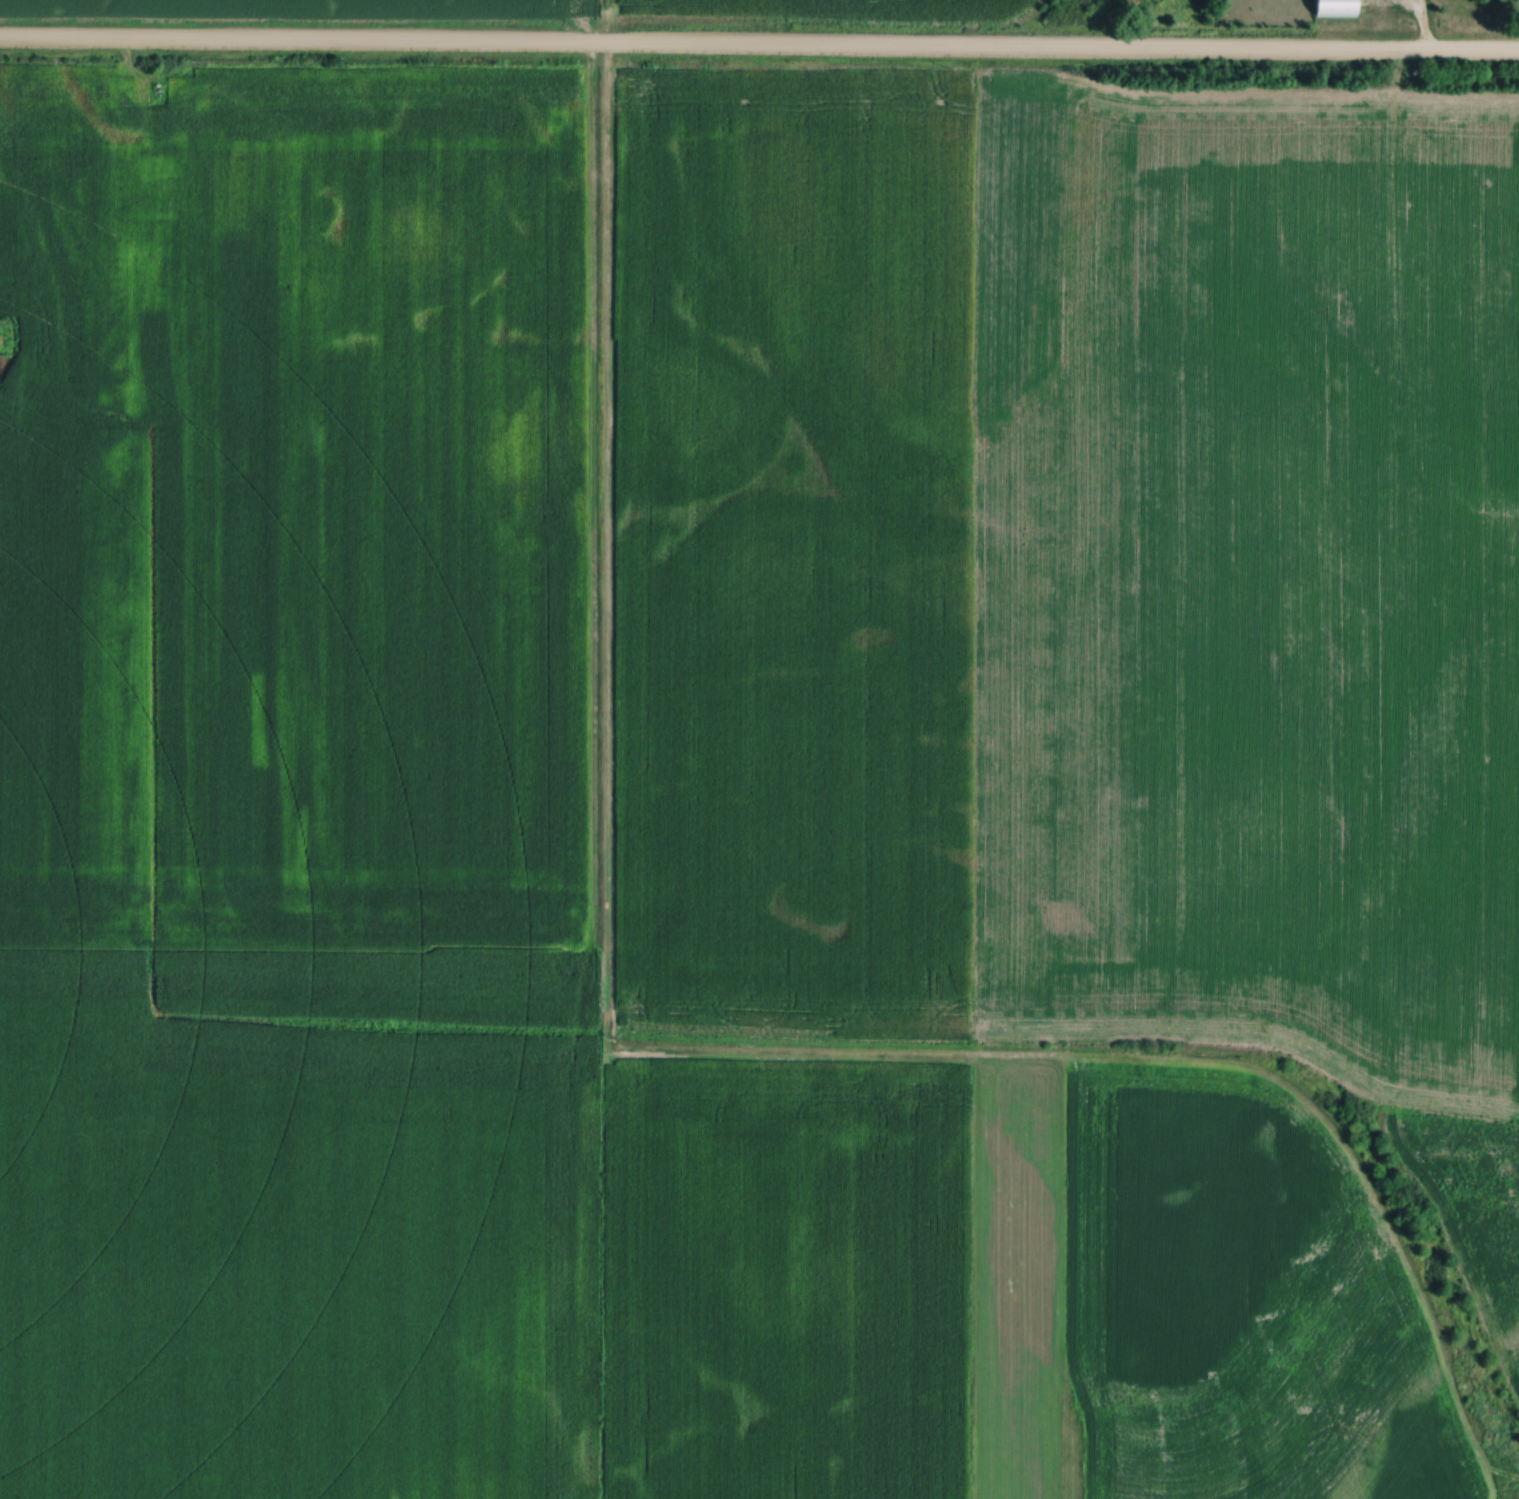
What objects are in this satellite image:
building: (1339, 9)
road: (1422, 9)
road: (1431, 34)
road: (759, 47)

